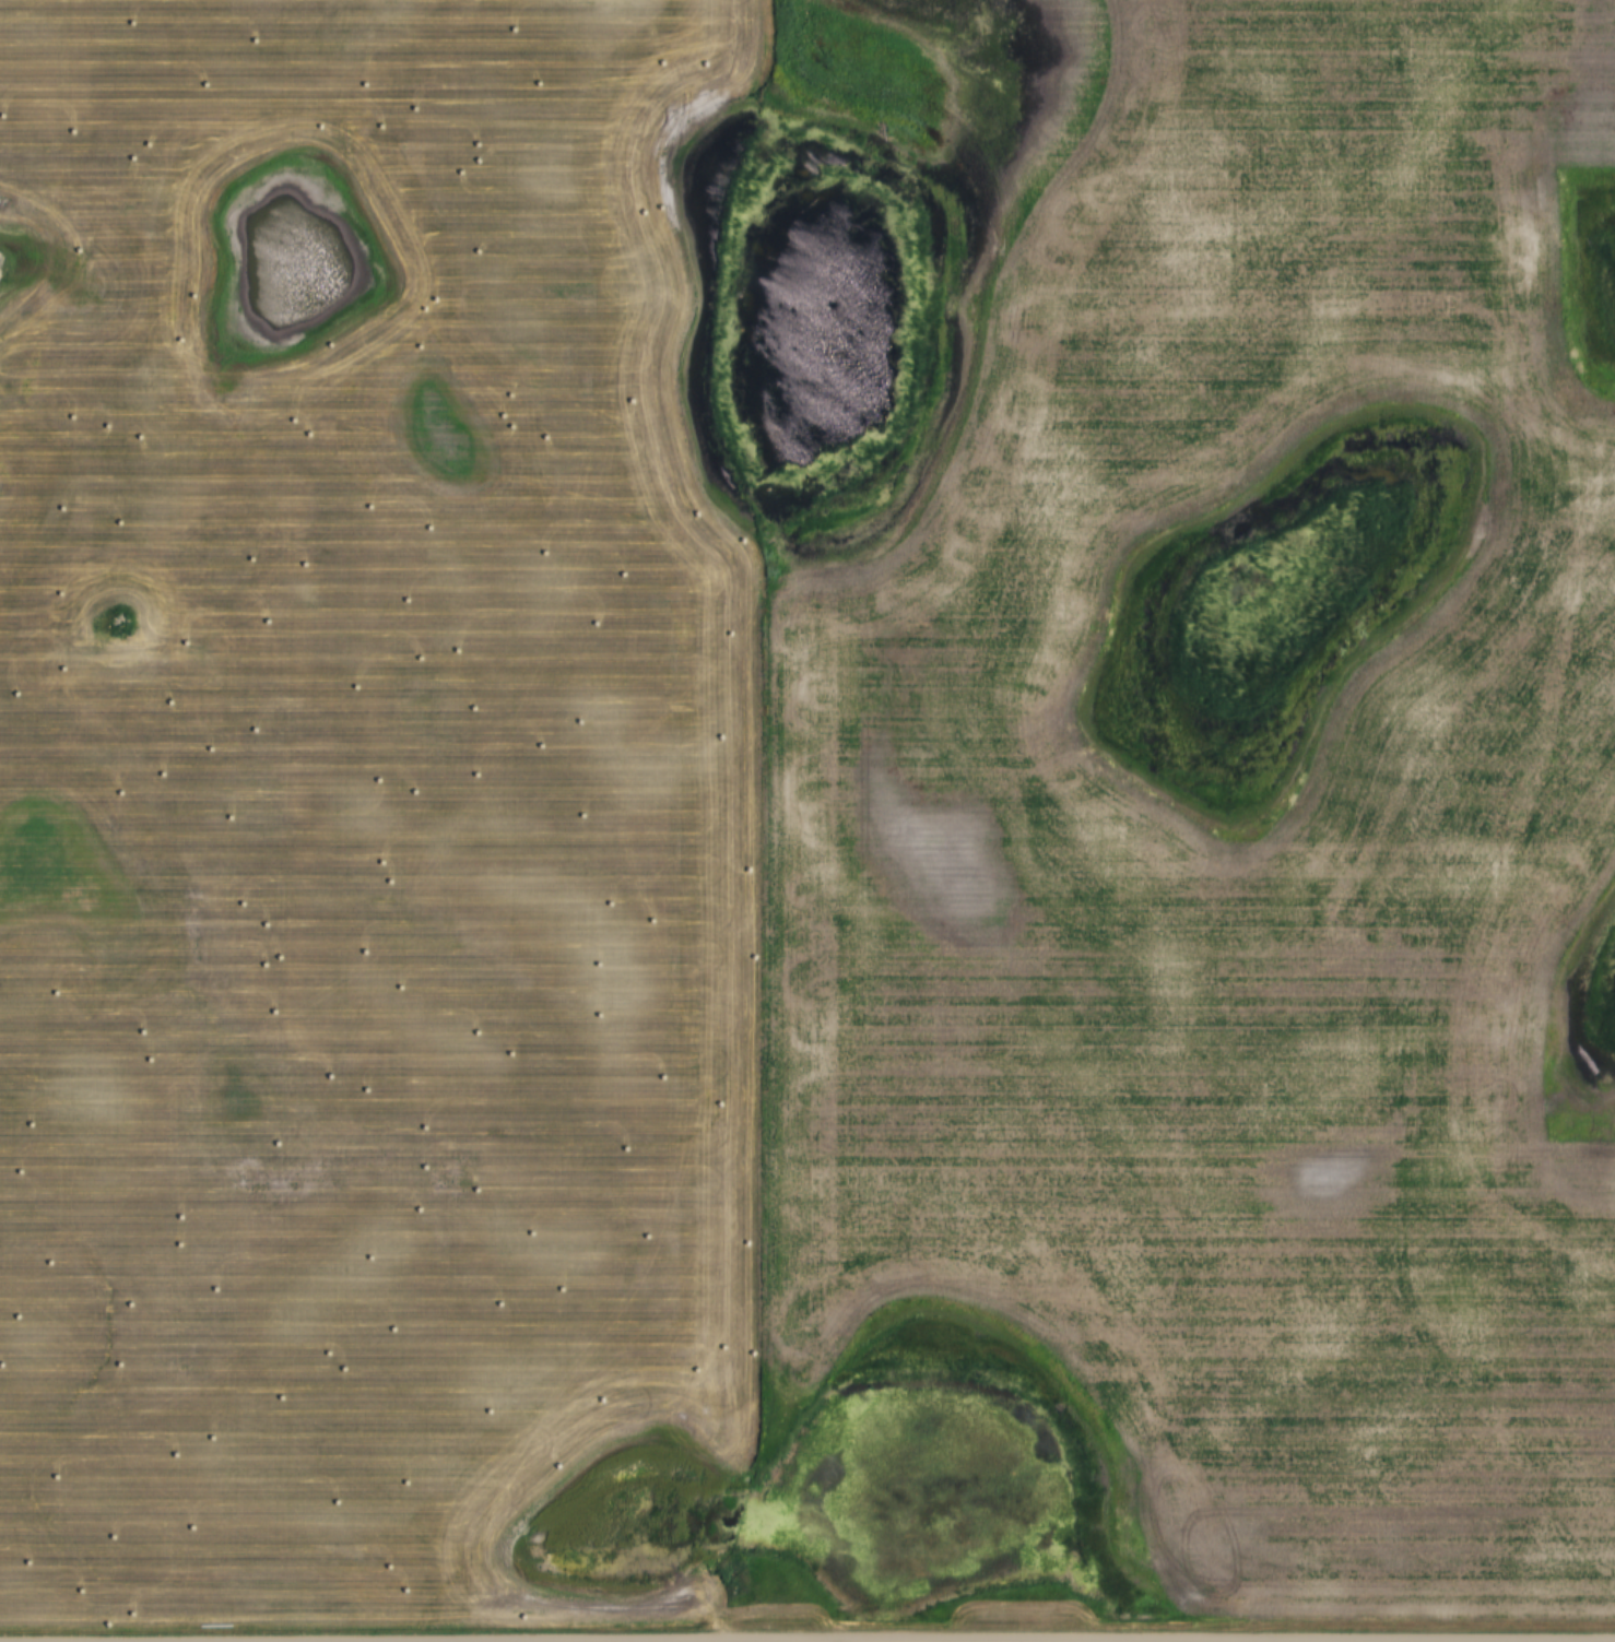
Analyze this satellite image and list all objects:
road: (202, 1641)

